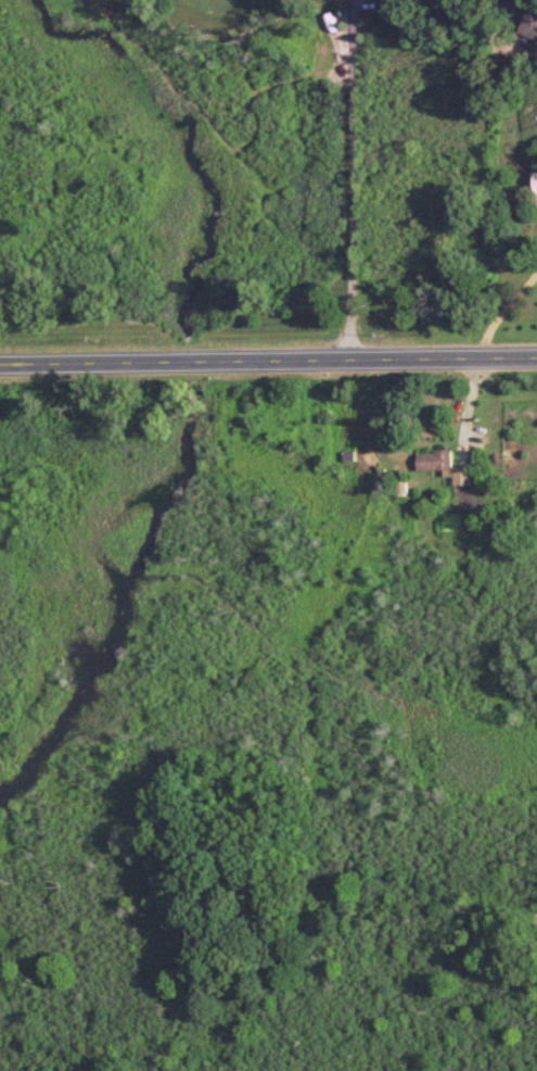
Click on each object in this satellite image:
building: (528, 23)
road: (351, 179)
building: (535, 179)
road: (268, 358)
building: (445, 465)

